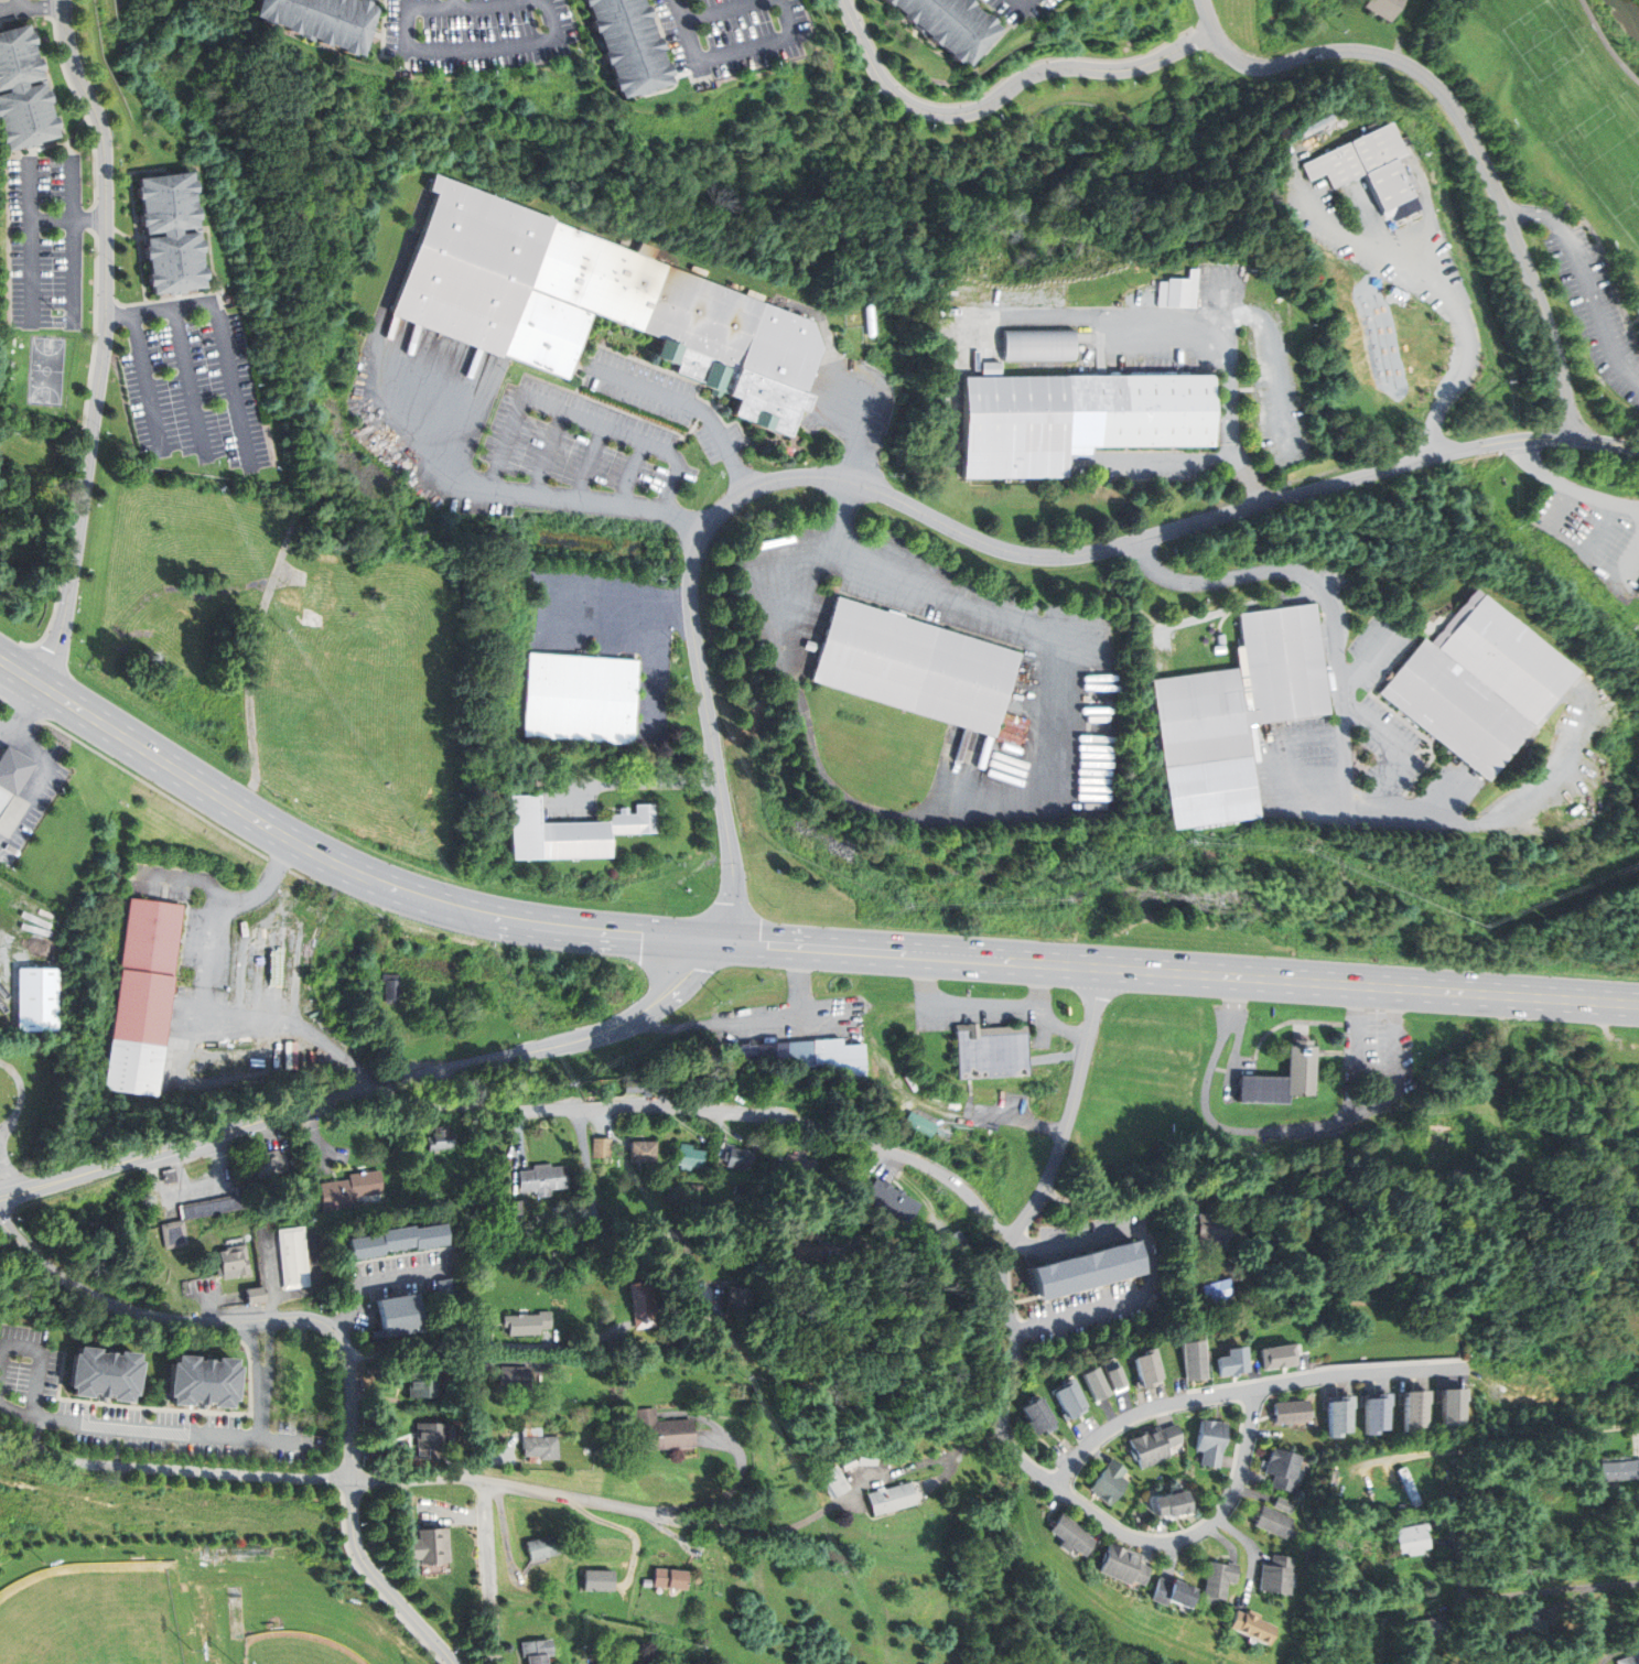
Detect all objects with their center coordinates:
road: (382, 1)
road: (407, 2)
road: (455, 3)
road: (1024, 3)
road: (19, 4)
building: (1384, 7)
road: (31, 8)
road: (53, 8)
river: (1631, 8)
parking lot: (1023, 9)
road: (720, 10)
road: (1211, 14)
park: (1270, 18)
building: (320, 19)
building: (950, 24)
road: (1012, 24)
parking lot: (476, 33)
parking lot: (729, 33)
road: (381, 43)
building: (627, 43)
road: (1606, 43)
road: (419, 48)
road: (726, 52)
road: (669, 57)
road: (688, 77)
road: (51, 83)
road: (1001, 86)
building: (21, 91)
road: (1006, 95)
road: (84, 109)
road: (1471, 134)
road: (60, 143)
road: (33, 148)
park: (1562, 158)
building: (1365, 164)
road: (1523, 179)
road: (1538, 214)
road: (68, 219)
road: (95, 219)
building: (166, 233)
parking lot: (47, 240)
road: (74, 240)
road: (32, 241)
building: (1177, 292)
road: (196, 294)
road: (1603, 296)
building: (595, 303)
building: (1637, 307)
road: (1597, 309)
road: (161, 310)
parking lot: (1594, 311)
road: (1633, 321)
road: (1153, 332)
road: (1473, 332)
road: (105, 342)
building: (1038, 345)
building: (947, 354)
road: (1629, 357)
park: (46, 370)
road: (147, 381)
road: (190, 381)
parking lot: (193, 382)
road: (233, 383)
road: (686, 406)
building: (1076, 418)
road: (583, 419)
road: (854, 425)
road: (1607, 442)
road: (80, 449)
road: (1184, 460)
road: (1570, 486)
road: (535, 487)
road: (930, 517)
building: (1636, 595)
building: (313, 599)
road: (623, 607)
road: (1231, 611)
building: (915, 666)
road: (21, 670)
road: (647, 670)
building: (1479, 685)
building: (580, 699)
road: (26, 711)
building: (1237, 713)
road: (1345, 746)
building: (17, 767)
road: (41, 776)
building: (6, 785)
road: (1018, 788)
building: (569, 831)
road: (362, 873)
traffic signals: (724, 941)
building: (144, 970)
road: (1182, 972)
building: (392, 990)
building: (40, 1000)
road: (212, 1003)
building: (468, 1029)
building: (931, 1045)
building: (741, 1051)
building: (772, 1053)
building: (800, 1053)
building: (991, 1055)
building: (840, 1057)
building: (131, 1066)
building: (1301, 1070)
building: (641, 1085)
road: (375, 1089)
building: (1264, 1089)
park: (26, 1091)
road: (22, 1094)
road: (440, 1105)
road: (1071, 1110)
road: (775, 1119)
road: (994, 1119)
building: (921, 1124)
building: (440, 1139)
building: (972, 1142)
building: (602, 1147)
building: (641, 1152)
building: (690, 1156)
building: (737, 1157)
building: (271, 1165)
building: (798, 1165)
road: (7, 1170)
building: (168, 1175)
building: (542, 1179)
building: (351, 1189)
building: (893, 1200)
building: (218, 1204)
building: (516, 1208)
road: (678, 1223)
building: (1211, 1224)
building: (173, 1234)
building: (395, 1240)
road: (1070, 1241)
building: (953, 1242)
building: (795, 1252)
building: (293, 1257)
building: (234, 1262)
building: (1085, 1269)
road: (375, 1278)
building: (445, 1287)
building: (1218, 1290)
building: (255, 1295)
building: (735, 1299)
building: (641, 1304)
building: (398, 1315)
road: (1072, 1315)
road: (228, 1321)
building: (527, 1322)
building: (1277, 1357)
building: (1195, 1360)
building: (1236, 1361)
road: (41, 1362)
building: (1149, 1369)
building: (101, 1374)
building: (513, 1376)
building: (1118, 1377)
building: (201, 1382)
road: (263, 1383)
building: (1097, 1383)
building: (420, 1384)
road: (1244, 1391)
building: (1072, 1400)
building: (1415, 1409)
road: (262, 1411)
road: (15, 1412)
building: (1293, 1412)
building: (1453, 1412)
building: (1377, 1414)
building: (1039, 1416)
building: (1340, 1416)
road: (483, 1420)
road: (169, 1430)
building: (664, 1430)
building: (430, 1435)
road: (1502, 1440)
building: (1214, 1441)
building: (1157, 1444)
building: (540, 1447)
building: (1286, 1469)
building: (1619, 1470)
road: (363, 1480)
building: (834, 1481)
building: (1111, 1482)
road: (863, 1485)
building: (1409, 1487)
building: (891, 1498)
road: (1077, 1502)
building: (1175, 1504)
building: (1287, 1505)
building: (1276, 1522)
building: (1069, 1534)
building: (1412, 1537)
building: (428, 1546)
building: (542, 1547)
building: (1121, 1565)
road: (488, 1573)
building: (1277, 1576)
building: (669, 1578)
building: (1218, 1578)
building: (597, 1579)
road: (381, 1581)
road: (370, 1582)
road: (1549, 1589)
building: (1171, 1592)
park: (99, 1616)
building: (1249, 1627)
building: (1430, 1627)
building: (1528, 1627)
park: (300, 1649)
building: (535, 1651)
building: (1631, 1658)
building: (616, 1663)

